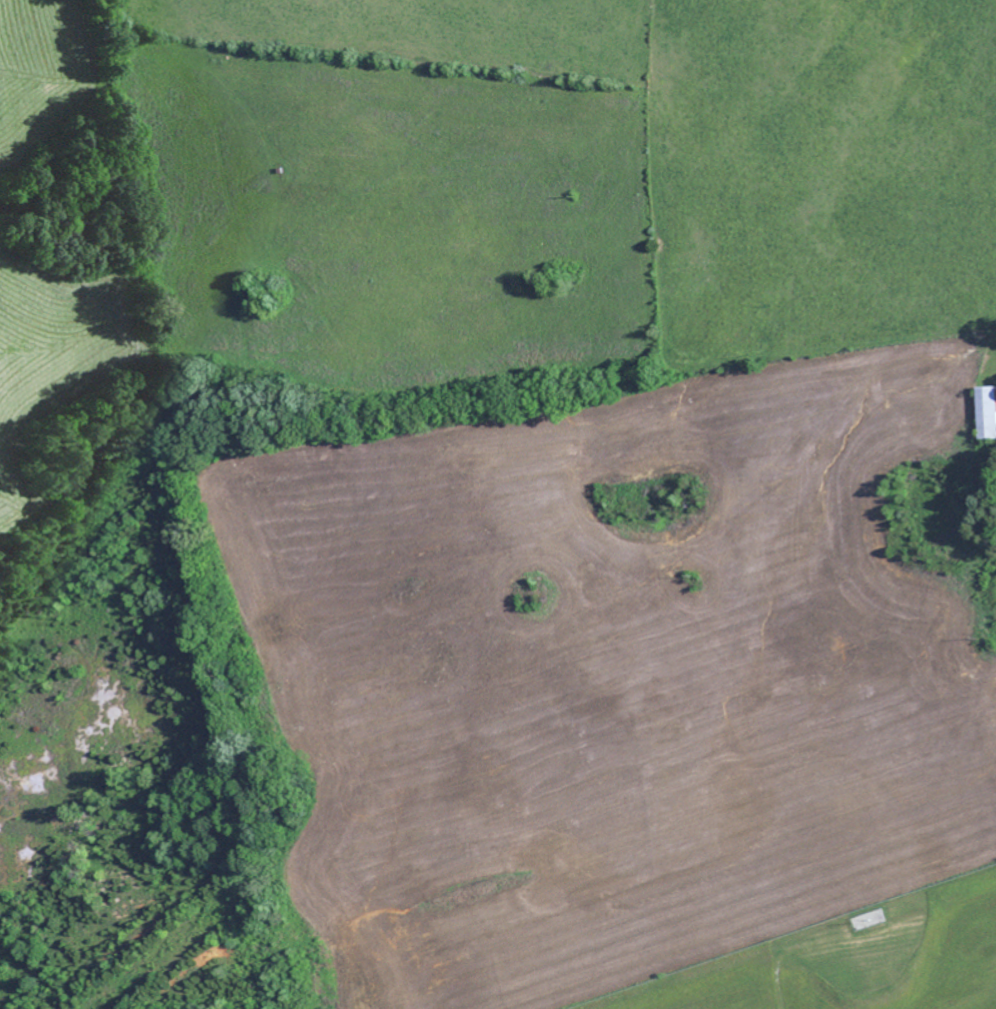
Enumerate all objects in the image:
building: (990, 412)

